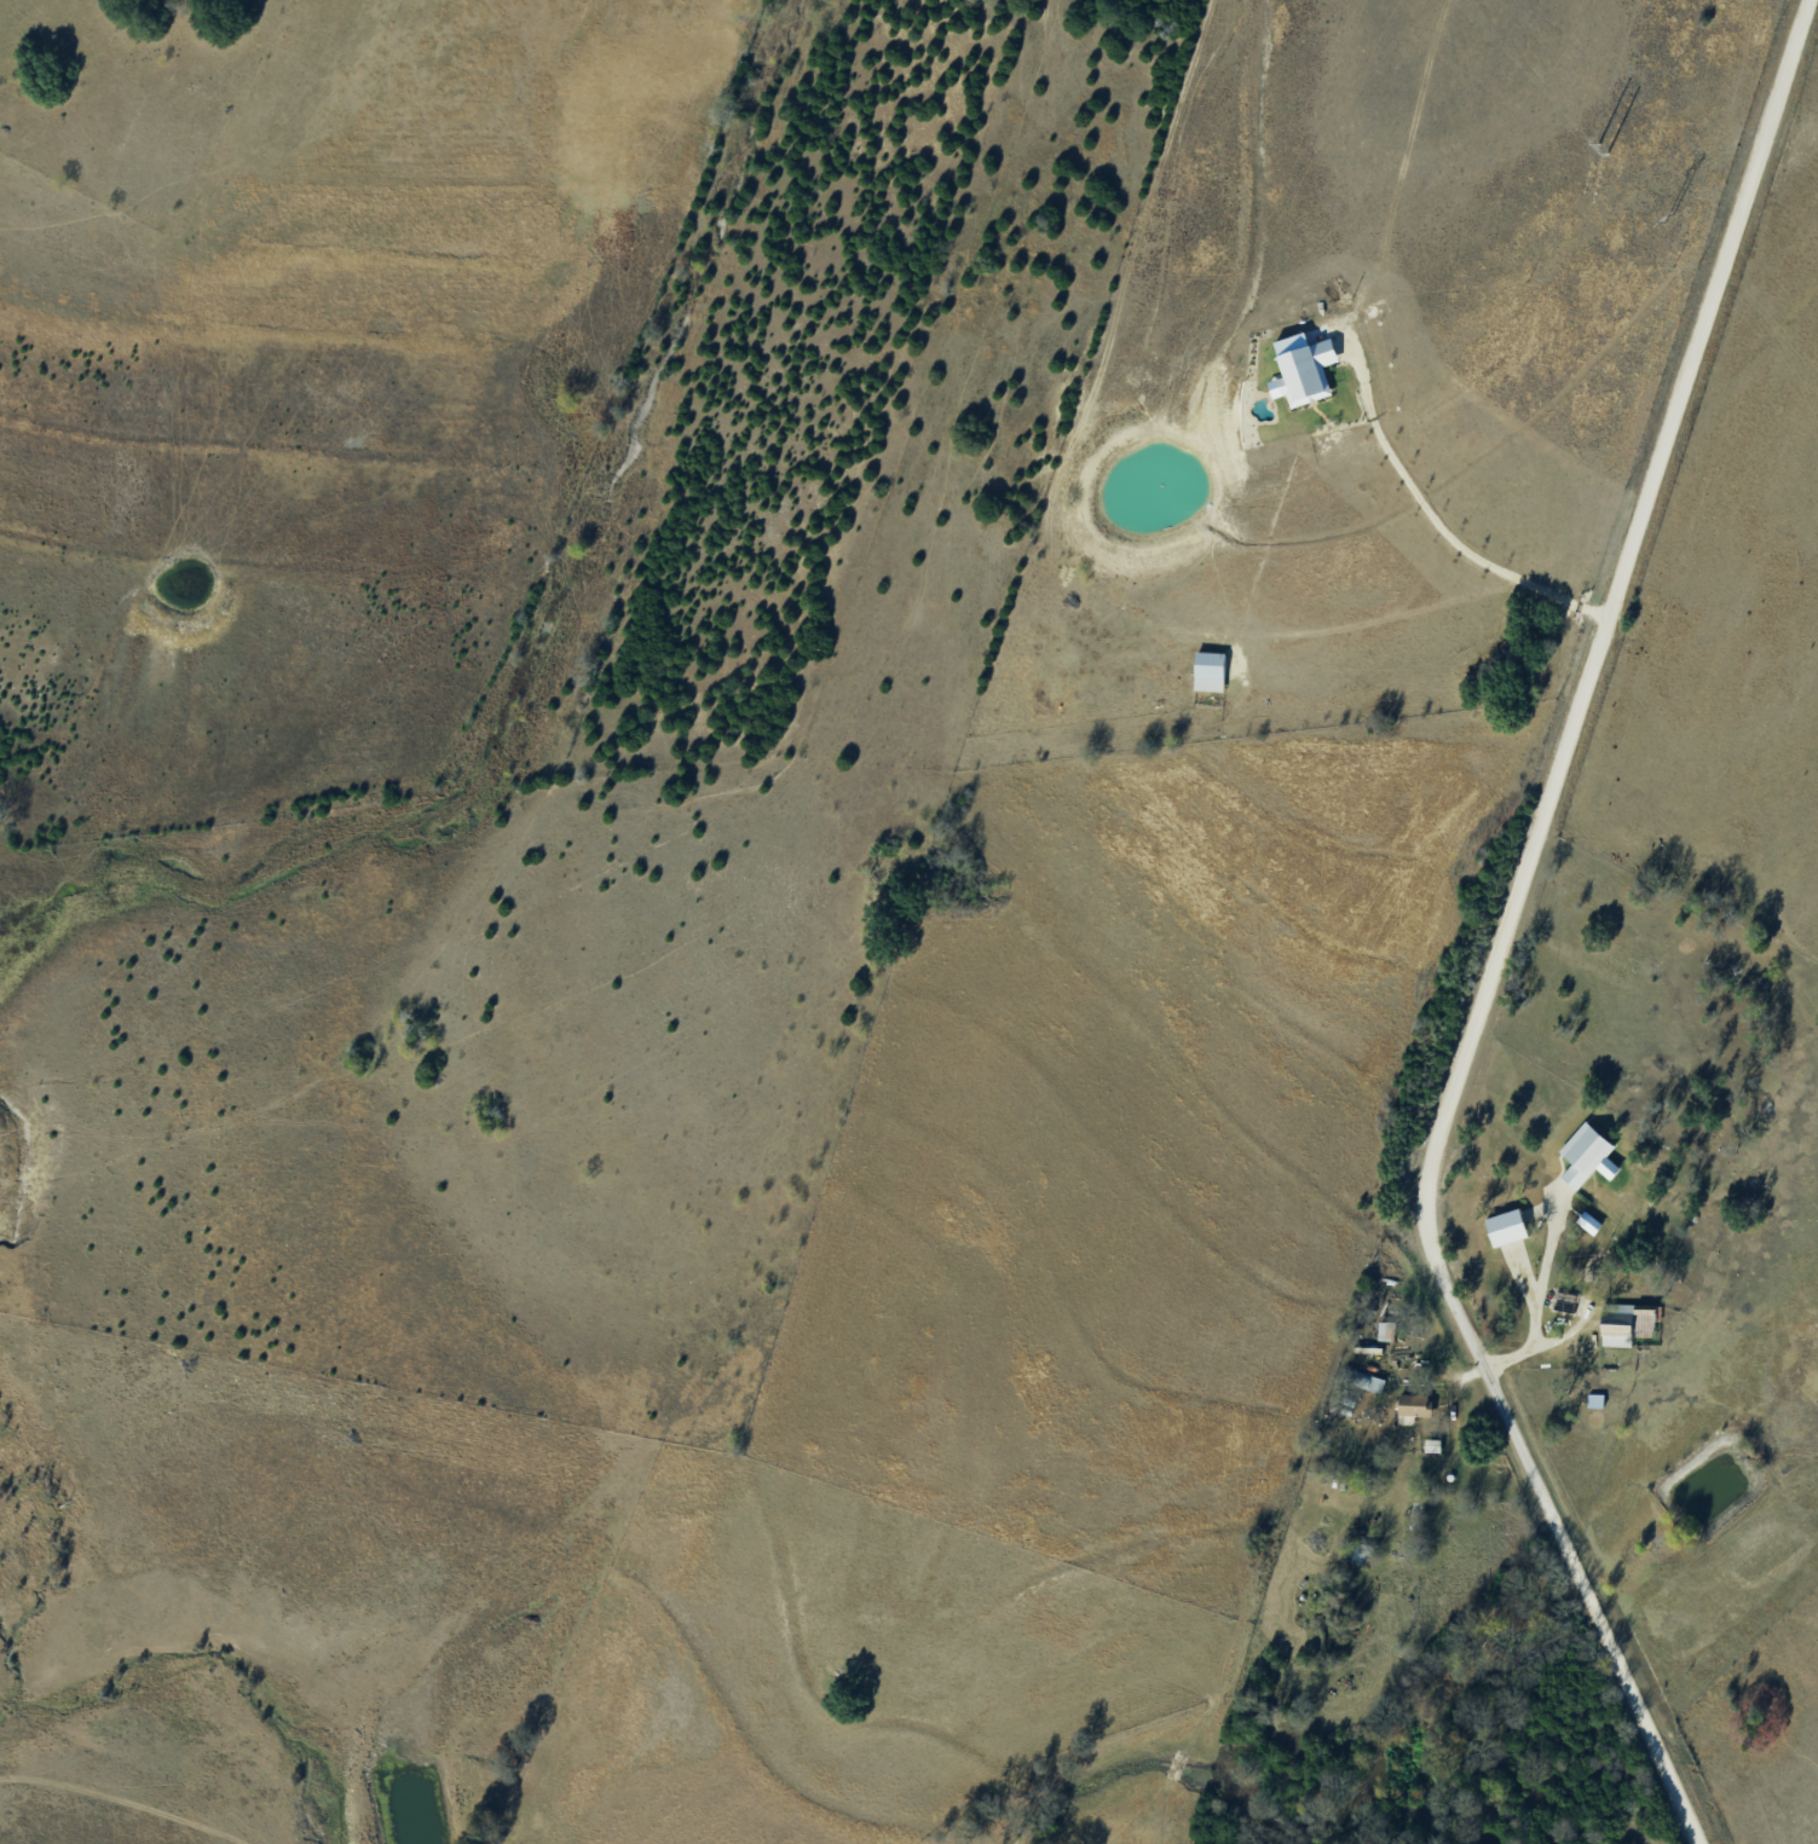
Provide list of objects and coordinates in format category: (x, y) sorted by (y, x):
power tower: (1597, 144)
power tower: (1605, 154)
power tower: (1667, 218)
building: (1210, 671)
road: (1501, 933)
building: (1599, 1236)
building: (1627, 1323)
building: (1386, 1330)
building: (1352, 1377)
building: (1414, 1404)
building: (1360, 1554)

